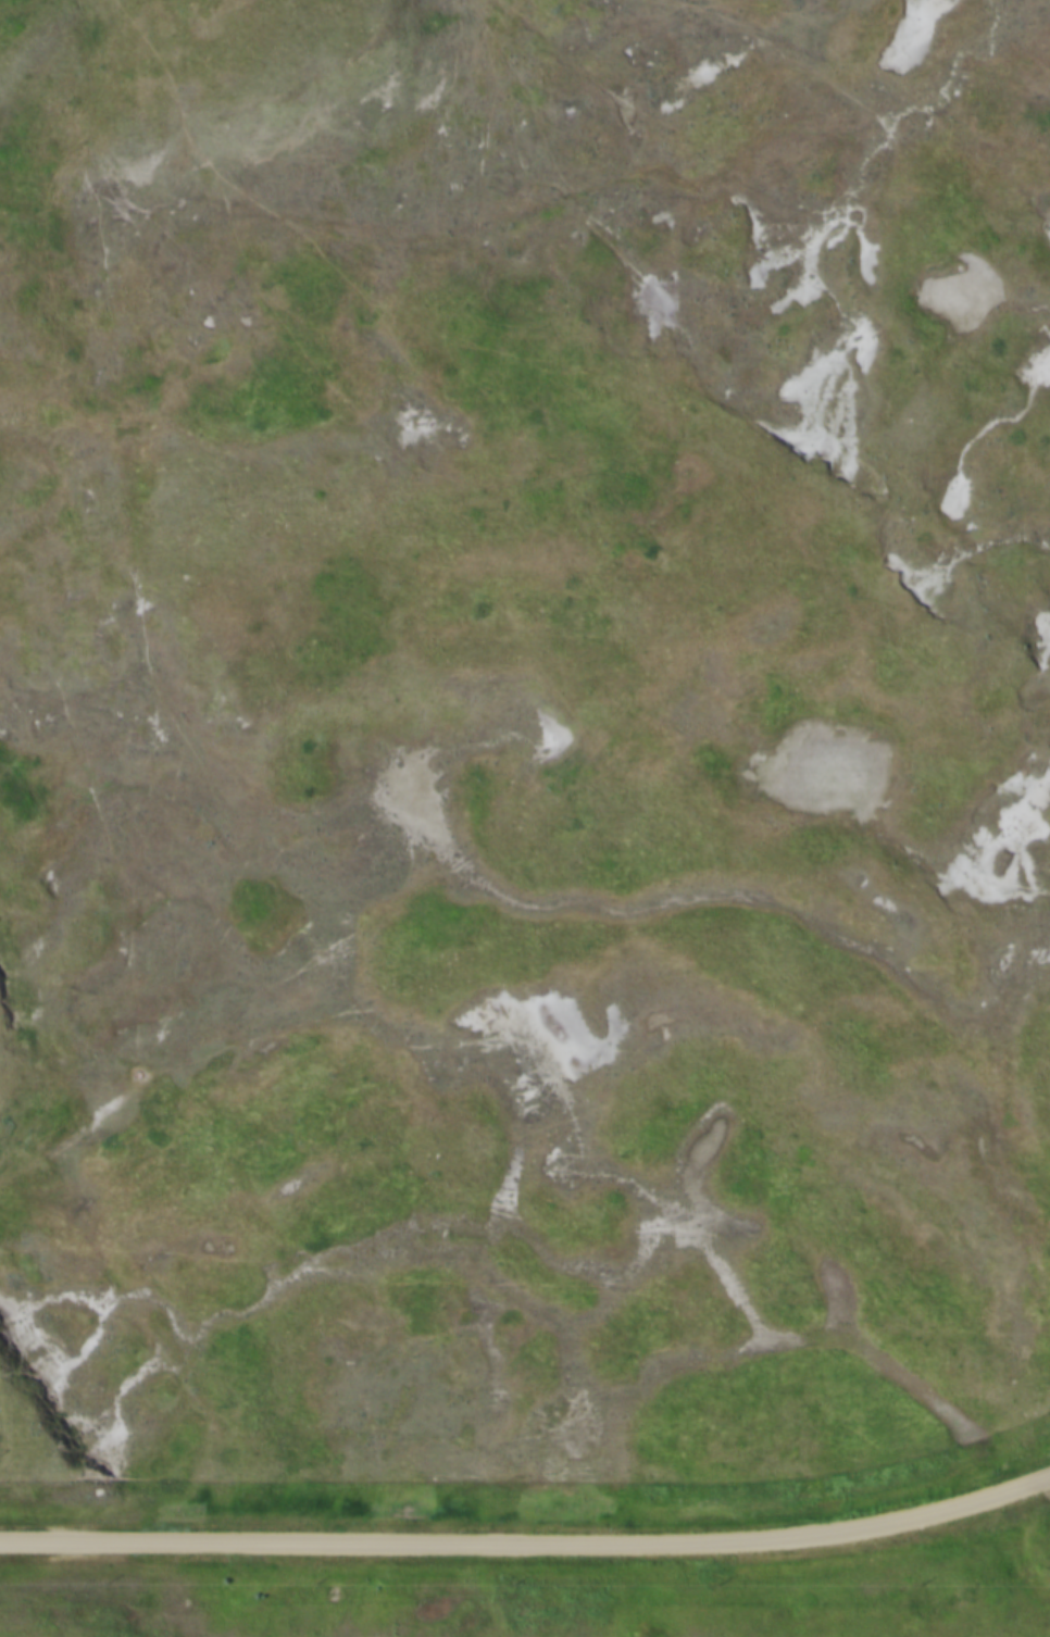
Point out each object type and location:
road: (528, 1538)

